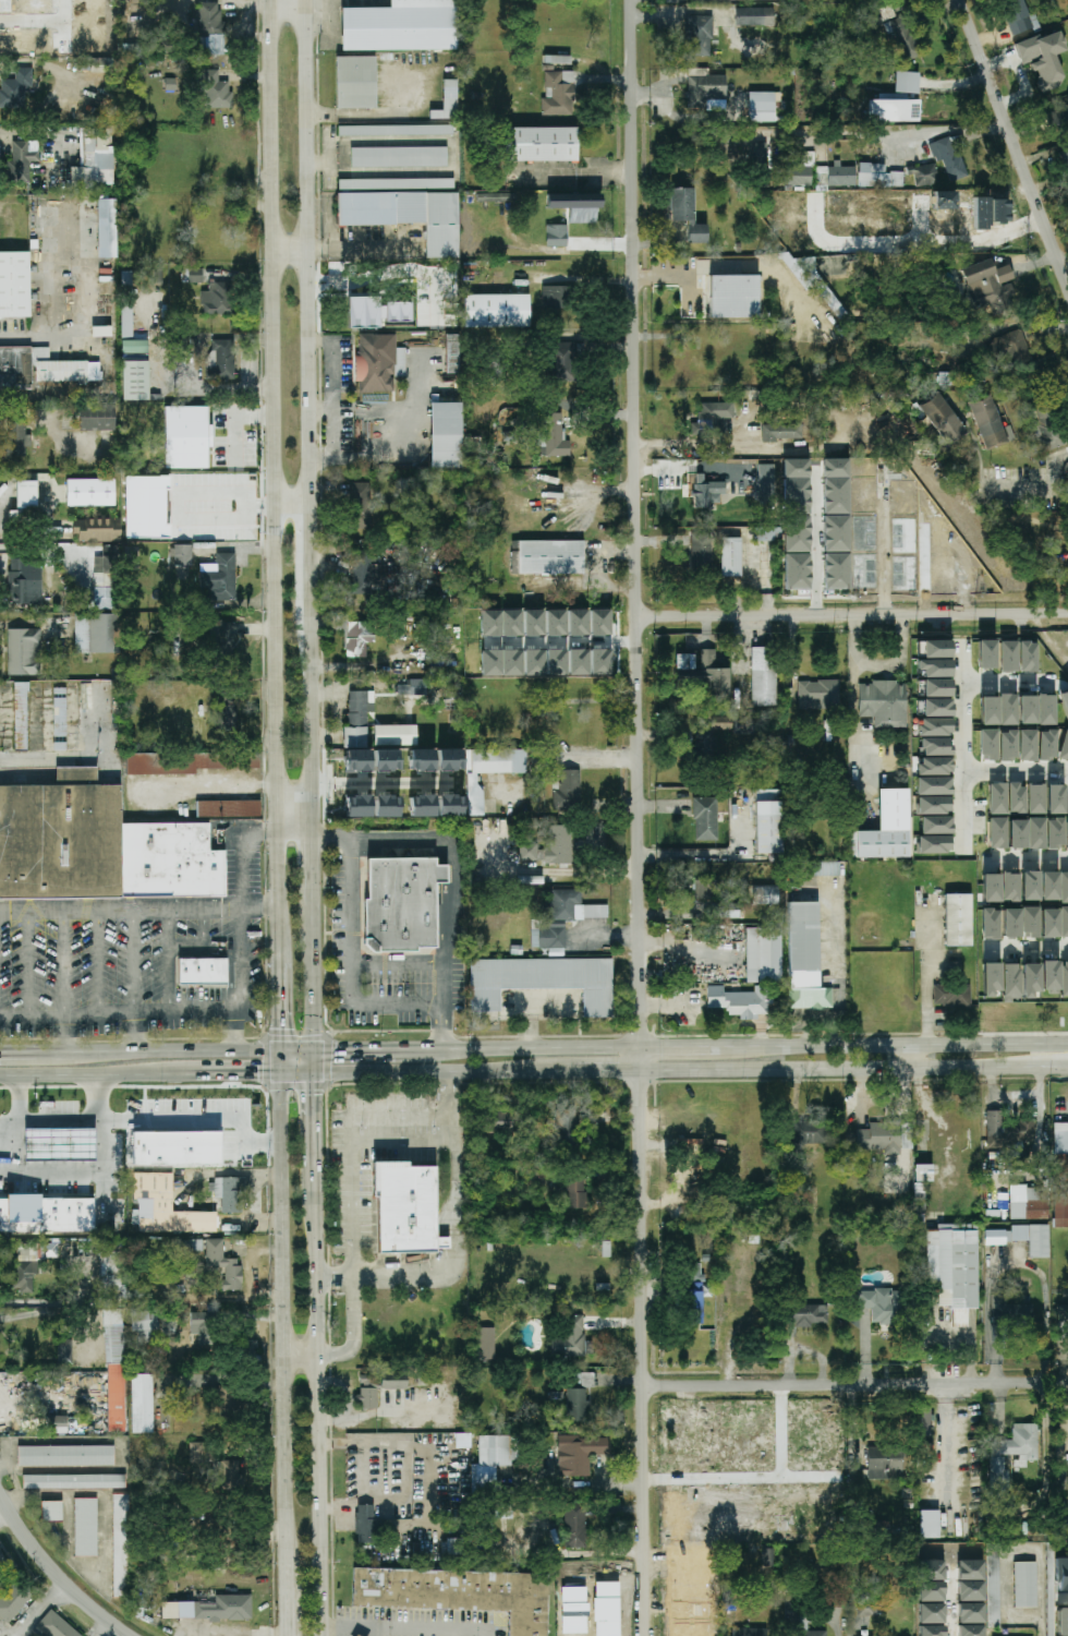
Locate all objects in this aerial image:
building: (762, 1)
road: (287, 10)
building: (1017, 15)
building: (756, 19)
building: (875, 22)
building: (402, 26)
building: (210, 28)
building: (702, 37)
building: (909, 41)
building: (1044, 58)
building: (558, 60)
road: (41, 64)
building: (96, 64)
building: (549, 68)
building: (355, 83)
building: (909, 85)
building: (15, 88)
building: (216, 91)
building: (707, 92)
building: (559, 94)
building: (477, 95)
building: (449, 99)
building: (764, 108)
building: (435, 113)
building: (896, 113)
road: (362, 115)
building: (1055, 117)
road: (863, 130)
road: (48, 131)
building: (396, 131)
road: (1012, 140)
building: (533, 144)
building: (96, 157)
building: (399, 157)
building: (954, 158)
building: (811, 159)
building: (22, 161)
building: (1064, 161)
road: (457, 164)
building: (761, 164)
road: (572, 175)
building: (927, 177)
building: (881, 179)
building: (823, 181)
building: (393, 183)
building: (846, 184)
building: (799, 185)
building: (523, 197)
building: (496, 199)
building: (470, 201)
building: (562, 212)
building: (408, 216)
building: (689, 216)
building: (107, 228)
building: (557, 236)
road: (357, 248)
road: (289, 249)
building: (742, 250)
road: (1066, 270)
building: (195, 275)
building: (820, 284)
building: (14, 285)
building: (993, 289)
building: (561, 297)
building: (217, 299)
building: (737, 299)
building: (496, 310)
building: (375, 312)
building: (851, 321)
building: (126, 322)
road: (209, 334)
road: (40, 337)
building: (134, 347)
building: (1015, 353)
building: (453, 354)
building: (221, 359)
building: (562, 359)
building: (376, 362)
building: (535, 364)
building: (40, 369)
building: (499, 369)
building: (135, 381)
road: (177, 381)
building: (948, 381)
road: (335, 399)
road: (320, 412)
building: (96, 417)
road: (307, 420)
building: (715, 421)
building: (945, 422)
road: (58, 423)
building: (991, 425)
building: (1045, 430)
building: (776, 434)
building: (448, 435)
building: (15, 436)
building: (551, 436)
building: (186, 437)
building: (875, 443)
road: (812, 449)
road: (691, 466)
building: (769, 479)
road: (274, 481)
road: (1035, 484)
building: (866, 489)
building: (89, 492)
building: (796, 492)
building: (26, 494)
building: (707, 494)
road: (291, 503)
building: (361, 506)
building: (157, 507)
building: (717, 518)
building: (934, 519)
building: (97, 530)
building: (889, 544)
road: (814, 546)
building: (949, 546)
park: (1039, 546)
building: (182, 555)
building: (704, 555)
building: (546, 556)
building: (733, 560)
building: (104, 572)
building: (364, 573)
building: (219, 578)
building: (25, 581)
road: (766, 585)
road: (851, 617)
building: (533, 623)
building: (556, 623)
building: (578, 623)
building: (599, 623)
building: (501, 624)
building: (96, 633)
building: (222, 636)
building: (354, 636)
road: (559, 643)
building: (936, 649)
building: (24, 652)
building: (985, 653)
road: (741, 655)
building: (1008, 657)
building: (1028, 657)
building: (501, 662)
building: (534, 662)
building: (556, 662)
building: (578, 662)
building: (600, 662)
building: (684, 663)
road: (896, 664)
road: (363, 665)
building: (934, 669)
building: (764, 675)
building: (709, 683)
road: (1006, 683)
building: (414, 686)
building: (936, 688)
building: (820, 695)
building: (59, 701)
building: (1064, 701)
building: (884, 702)
building: (936, 708)
building: (1007, 709)
building: (1027, 709)
building: (1046, 710)
building: (988, 711)
building: (20, 717)
building: (223, 718)
building: (354, 720)
building: (720, 722)
road: (854, 722)
building: (745, 725)
building: (935, 726)
building: (393, 736)
building: (682, 737)
building: (870, 739)
building: (987, 745)
building: (1027, 745)
building: (1046, 745)
building: (936, 746)
road: (963, 746)
building: (1007, 746)
building: (1064, 747)
building: (706, 750)
road: (584, 758)
building: (386, 760)
building: (421, 760)
building: (449, 760)
building: (189, 761)
building: (357, 761)
building: (934, 766)
building: (490, 771)
road: (1017, 772)
road: (381, 782)
building: (934, 786)
building: (568, 790)
building: (1034, 797)
building: (997, 798)
building: (1016, 798)
building: (1054, 799)
building: (450, 805)
building: (934, 805)
building: (357, 806)
building: (386, 806)
building: (422, 806)
building: (228, 808)
building: (705, 817)
road: (636, 818)
building: (936, 825)
building: (768, 827)
building: (887, 827)
building: (1054, 832)
building: (997, 833)
building: (1035, 833)
building: (1017, 834)
building: (1067, 835)
road: (295, 838)
building: (561, 839)
building: (935, 844)
building: (98, 846)
road: (738, 857)
road: (1028, 862)
building: (813, 869)
road: (313, 873)
road: (458, 876)
building: (531, 879)
building: (1029, 886)
building: (1048, 886)
building: (991, 888)
building: (1010, 888)
building: (1064, 888)
building: (704, 889)
building: (764, 894)
road: (444, 895)
building: (403, 902)
road: (235, 904)
building: (723, 911)
road: (139, 912)
building: (596, 912)
building: (556, 918)
building: (958, 919)
building: (1030, 921)
building: (1064, 922)
building: (1010, 923)
building: (1048, 923)
building: (991, 924)
building: (803, 943)
road: (201, 945)
road: (687, 947)
road: (838, 949)
road: (1028, 949)
building: (764, 953)
parking lot: (137, 959)
road: (168, 963)
road: (399, 963)
road: (97, 964)
road: (135, 964)
road: (24, 965)
road: (62, 965)
road: (355, 966)
building: (203, 973)
road: (930, 974)
building: (1049, 976)
road: (315, 978)
building: (991, 978)
building: (1064, 978)
building: (1030, 979)
building: (543, 981)
building: (1011, 982)
building: (952, 996)
building: (810, 998)
road: (518, 1000)
road: (530, 1001)
road: (670, 1001)
building: (741, 1001)
road: (280, 1007)
road: (118, 1015)
road: (820, 1018)
road: (236, 1033)
road: (62, 1034)
road: (135, 1034)
road: (691, 1046)
road: (155, 1051)
traffic signals: (280, 1051)
road: (298, 1051)
traffic signals: (316, 1051)
road: (15, 1054)
road: (919, 1057)
road: (280, 1062)
road: (315, 1062)
road: (673, 1070)
traffic signals: (315, 1073)
road: (139, 1074)
traffic signals: (281, 1074)
road: (1003, 1096)
road: (201, 1116)
road: (78, 1117)
building: (498, 1121)
road: (1040, 1121)
building: (568, 1126)
road: (15, 1127)
building: (1007, 1131)
building: (809, 1132)
building: (879, 1138)
building: (906, 1138)
road: (402, 1141)
building: (59, 1144)
road: (353, 1146)
building: (175, 1147)
road: (85, 1171)
building: (1060, 1175)
building: (536, 1178)
building: (577, 1191)
building: (230, 1193)
building: (1028, 1202)
road: (250, 1203)
building: (405, 1206)
building: (46, 1214)
road: (451, 1223)
building: (1023, 1238)
road: (1015, 1261)
building: (222, 1264)
building: (952, 1268)
building: (690, 1273)
building: (112, 1278)
road: (335, 1279)
building: (694, 1301)
building: (881, 1304)
building: (1020, 1312)
building: (1059, 1313)
building: (808, 1314)
building: (144, 1326)
building: (202, 1327)
road: (281, 1331)
road: (355, 1332)
building: (571, 1339)
building: (486, 1343)
building: (252, 1347)
building: (64, 1351)
road: (316, 1351)
road: (299, 1358)
building: (114, 1370)
building: (585, 1380)
road: (855, 1384)
building: (375, 1390)
road: (1, 1402)
road: (347, 1402)
building: (142, 1403)
building: (577, 1405)
road: (384, 1412)
building: (922, 1421)
building: (60, 1424)
road: (399, 1445)
building: (196, 1453)
road: (948, 1453)
building: (579, 1454)
building: (65, 1456)
building: (493, 1460)
building: (881, 1463)
building: (230, 1473)
building: (998, 1477)
building: (74, 1481)
road: (392, 1504)
building: (51, 1511)
building: (574, 1519)
building: (1065, 1521)
building: (929, 1524)
building: (368, 1526)
building: (85, 1527)
building: (120, 1545)
road: (1008, 1550)
building: (767, 1557)
building: (2, 1562)
building: (1061, 1574)
road: (54, 1576)
building: (1024, 1585)
building: (992, 1590)
building: (457, 1595)
building: (14, 1600)
building: (865, 1607)
building: (210, 1609)
road: (39, 1612)
road: (287, 1612)
building: (800, 1620)
building: (1061, 1622)
building: (56, 1626)
road: (1044, 1626)
road: (404, 1631)
building: (749, 1632)
road: (321, 1633)
road: (375, 1633)
building: (356, 1635)

